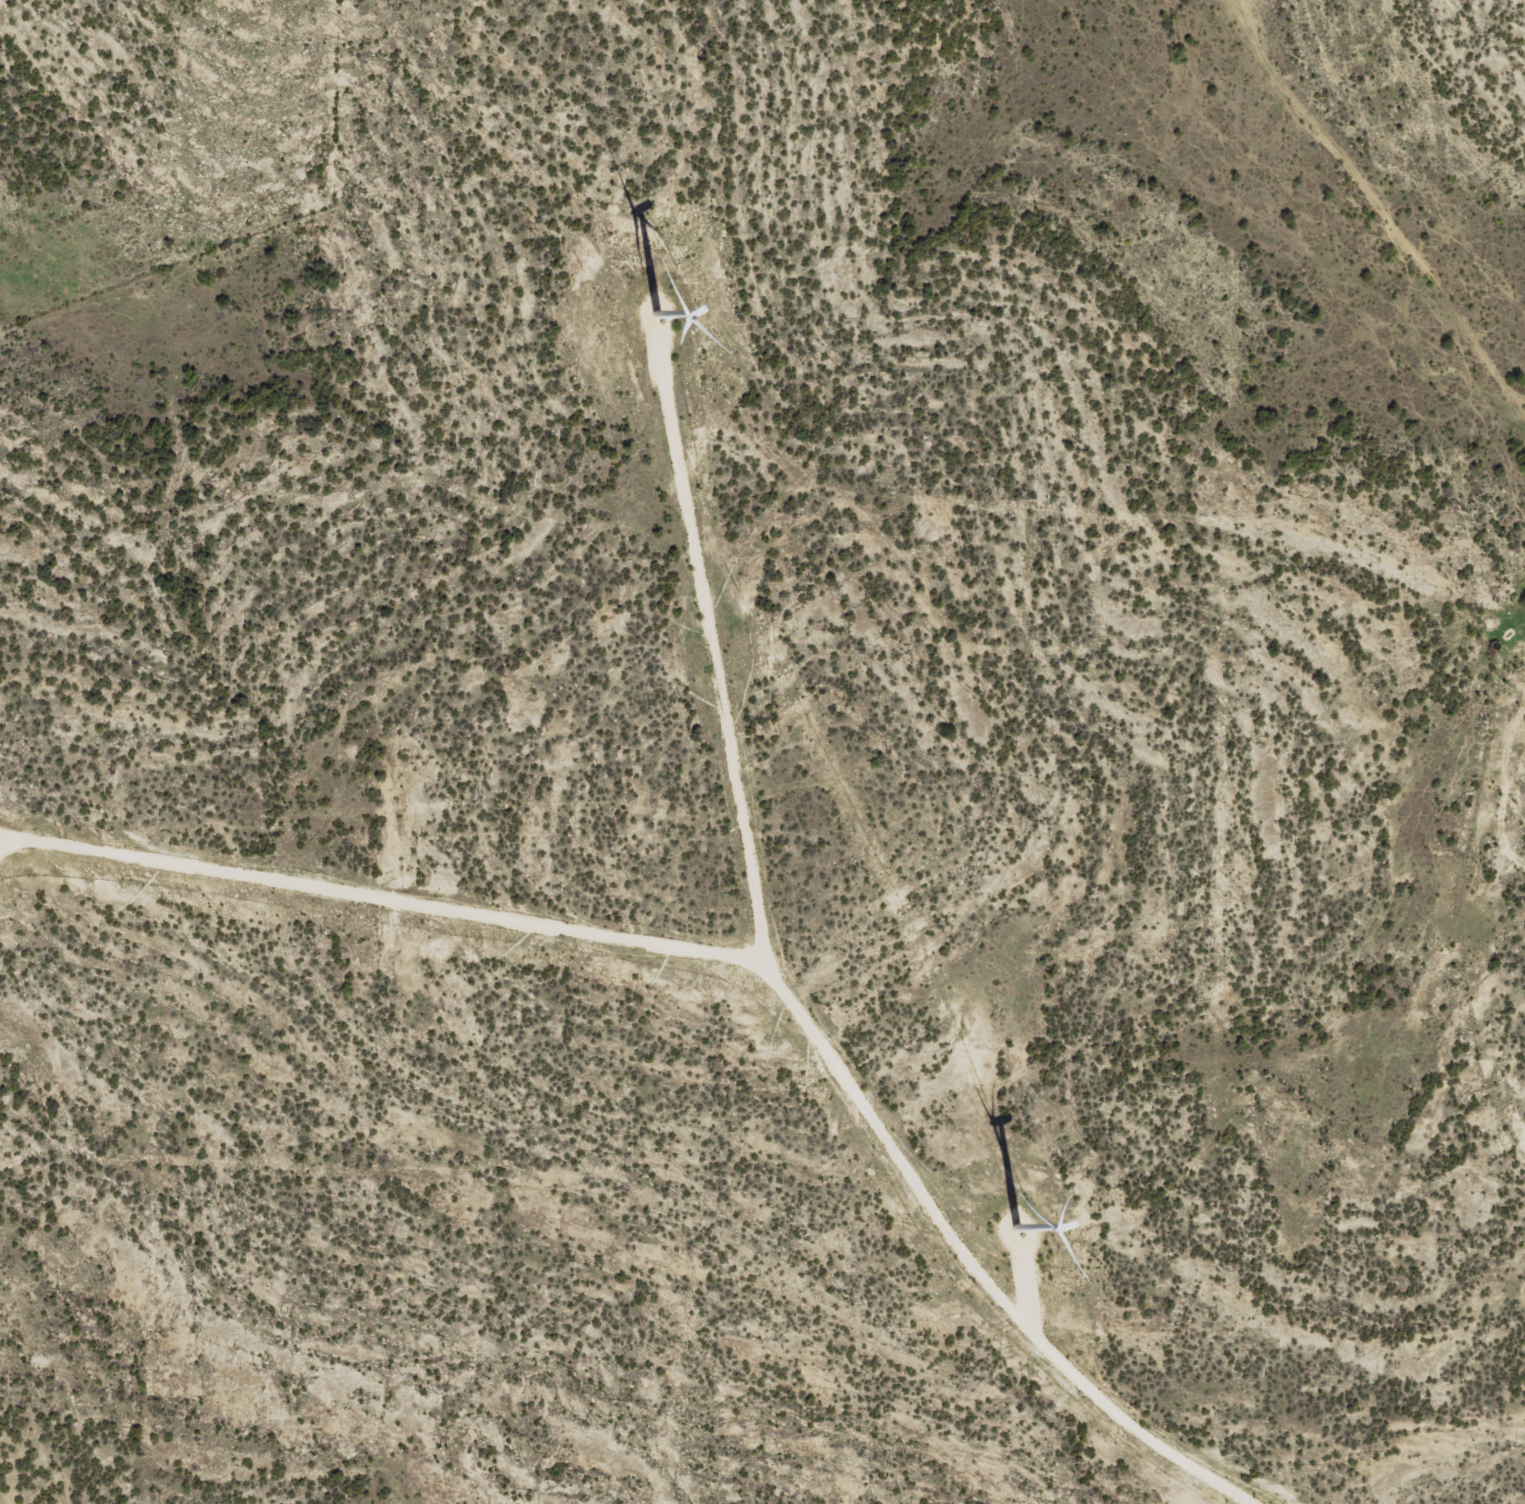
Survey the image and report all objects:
road: (1382, 205)
wind turbine: (656, 312)
wind turbine: (1011, 1229)

